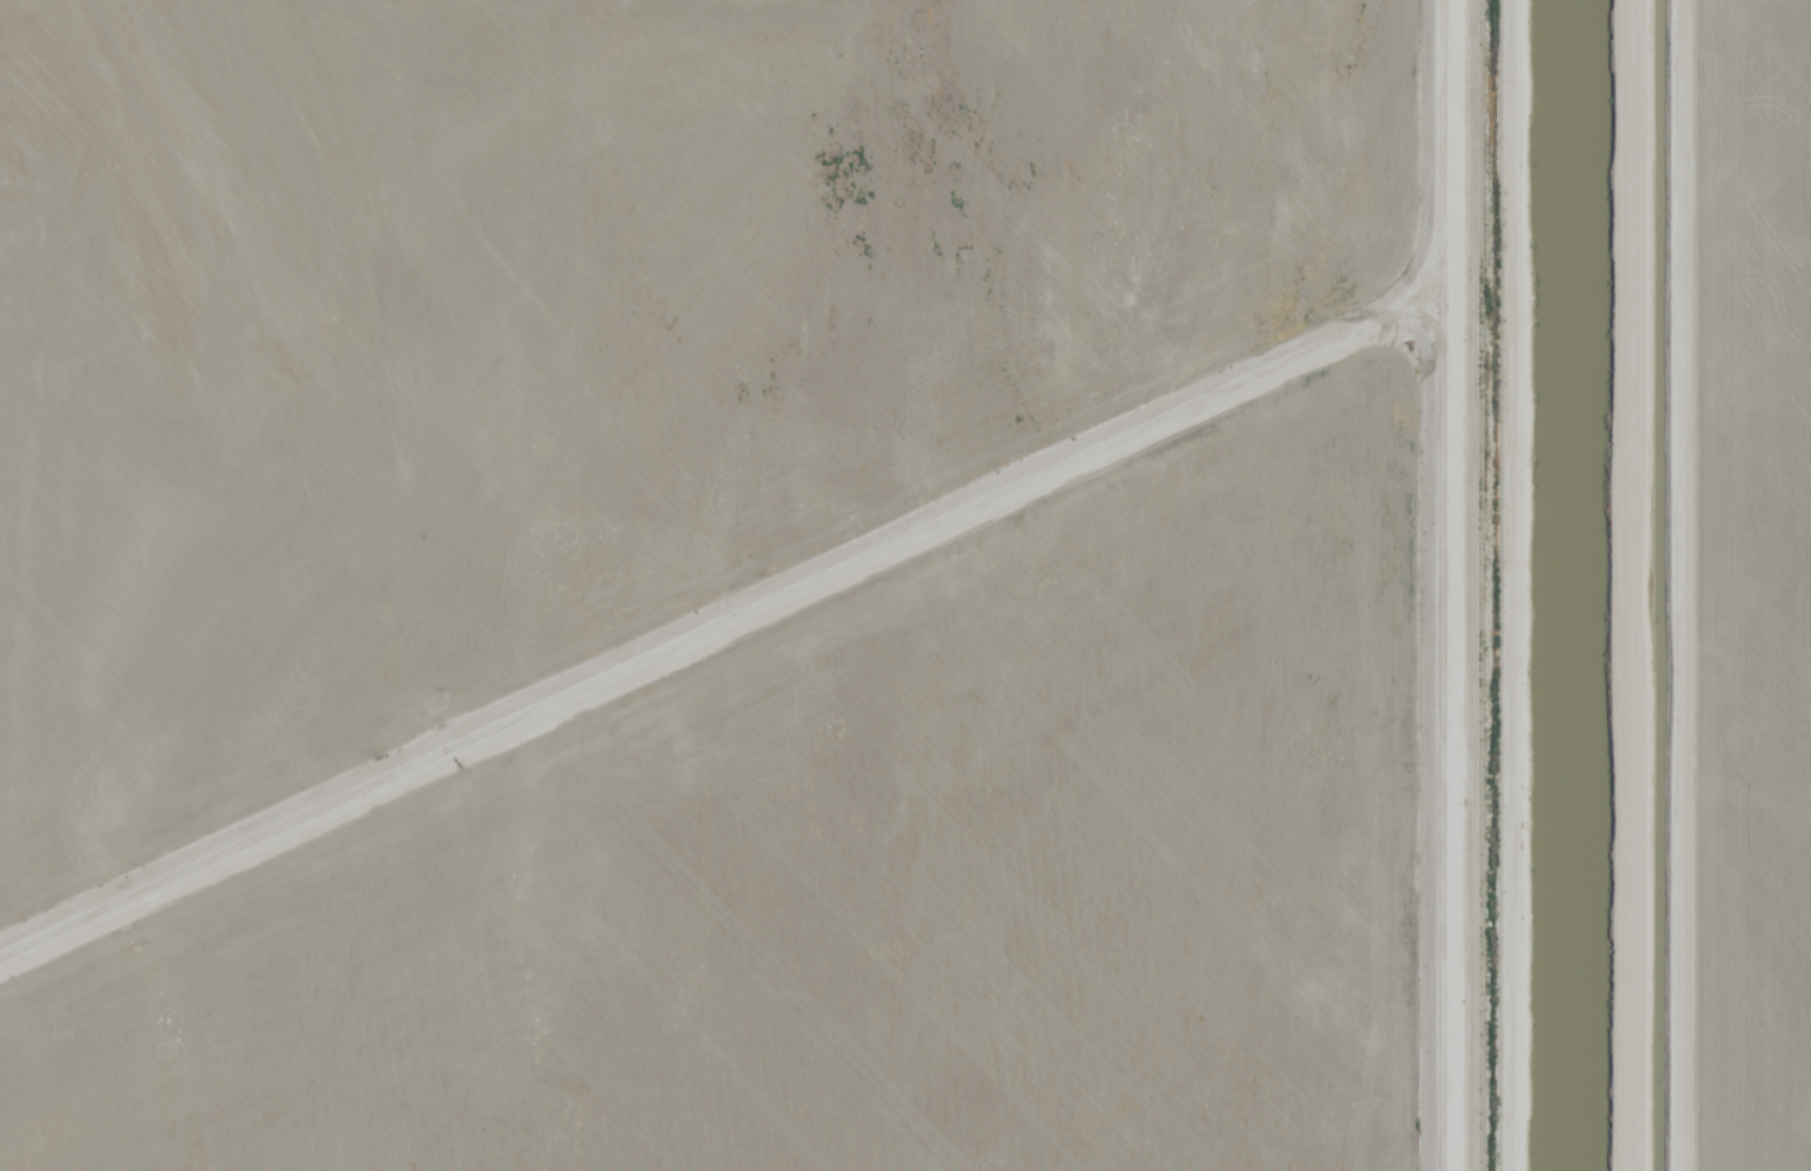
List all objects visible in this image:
road: (1460, 585)
road: (1580, 585)

